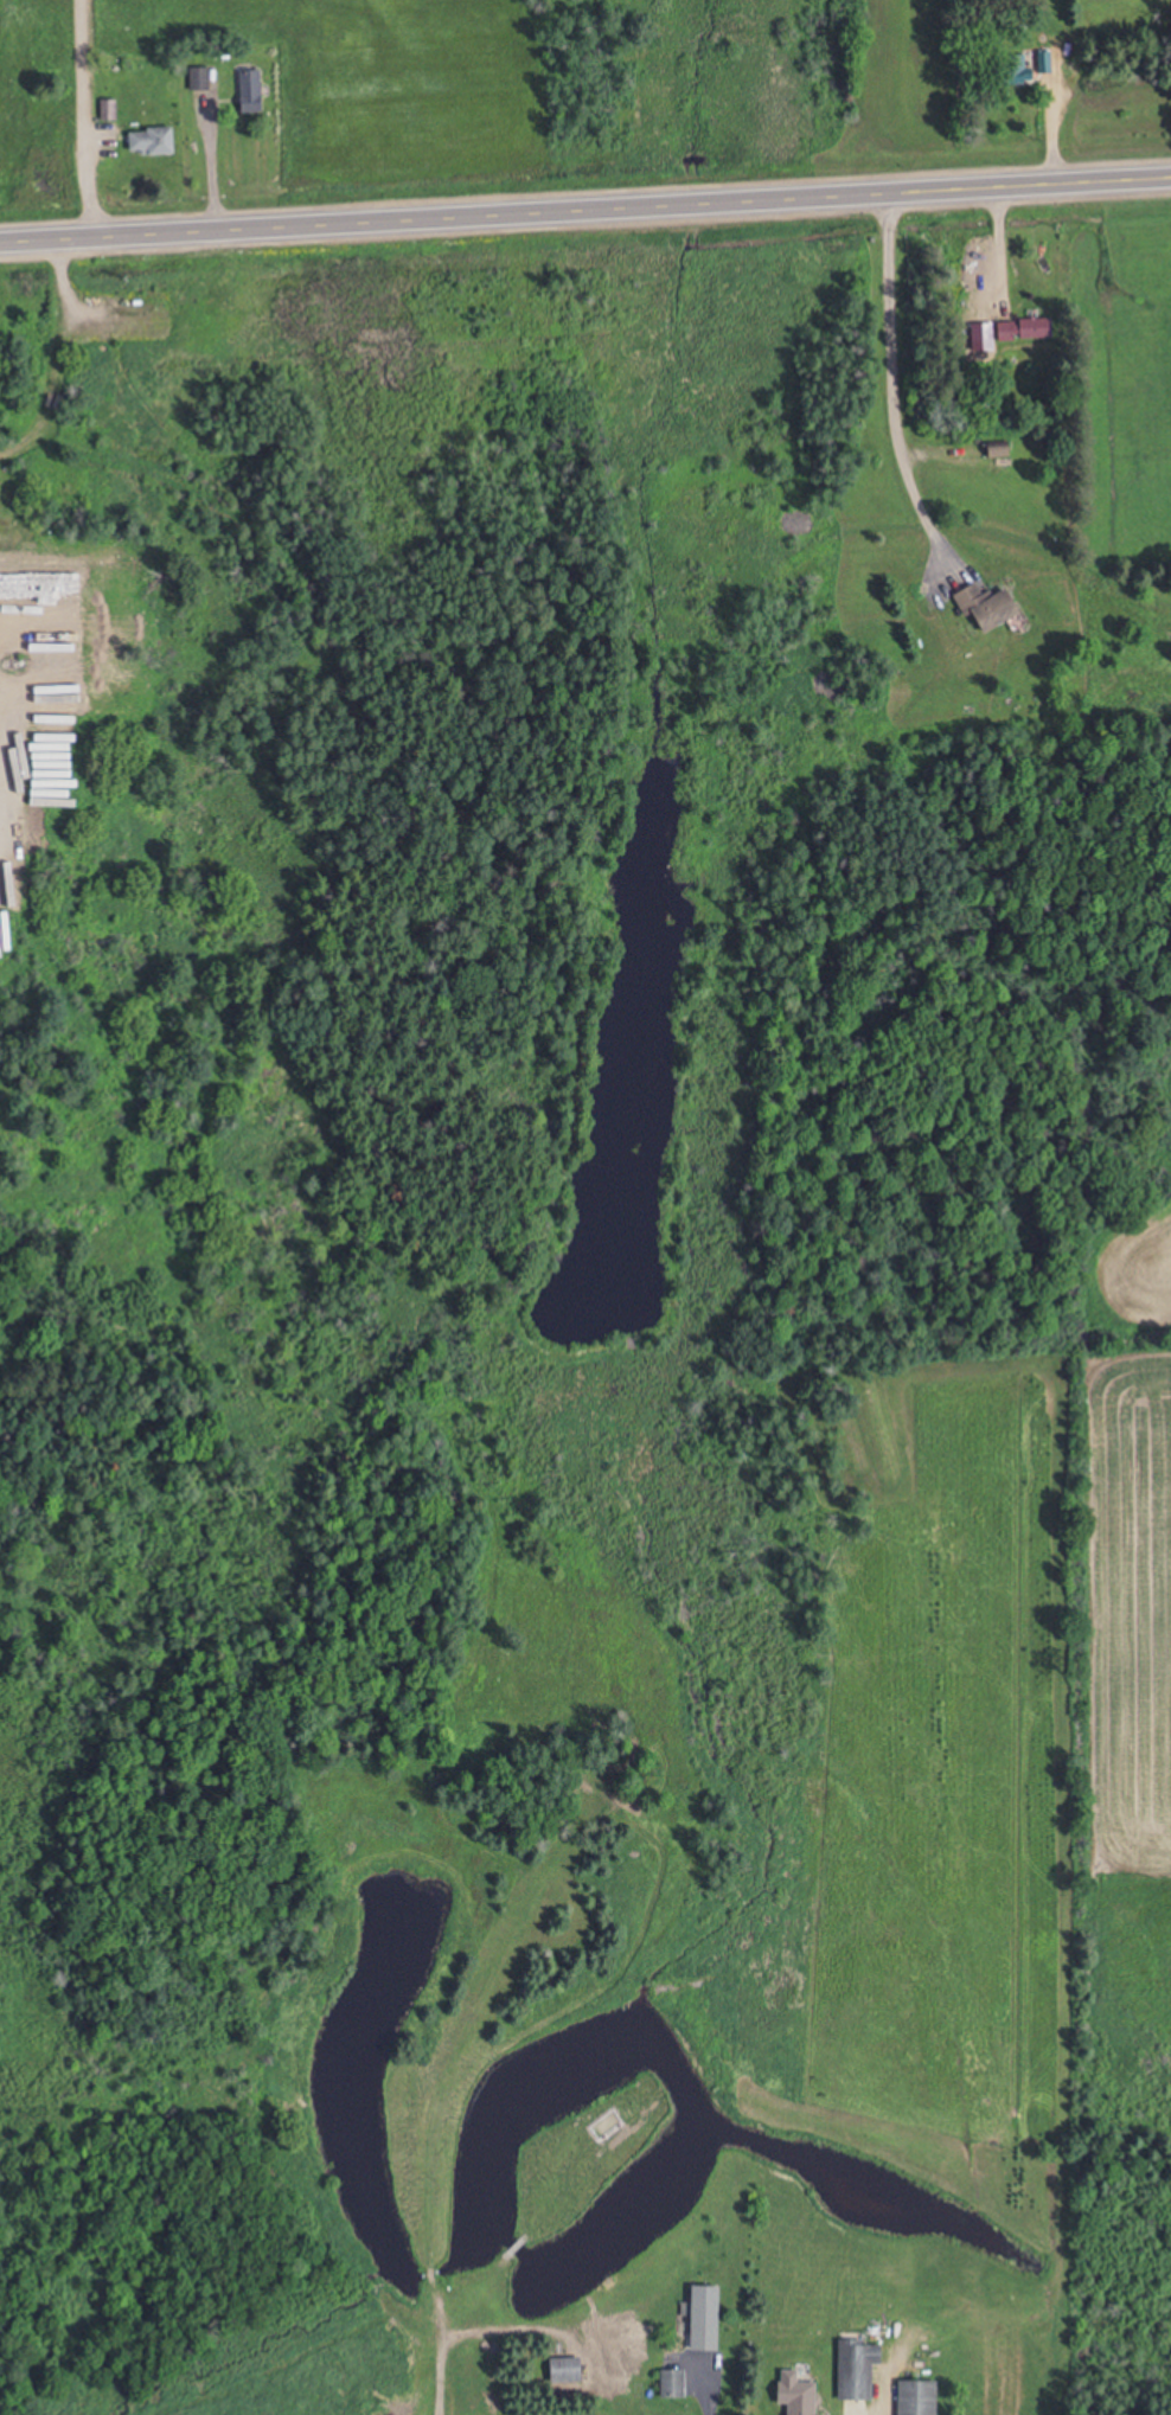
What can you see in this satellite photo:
building: (1047, 62)
building: (199, 78)
building: (250, 89)
building: (109, 110)
building: (154, 141)
road: (584, 209)
building: (1026, 329)
building: (991, 606)
building: (5, 933)
building: (708, 2317)
building: (858, 2366)
building: (568, 2369)
building: (673, 2382)
building: (800, 2394)
building: (920, 2397)

